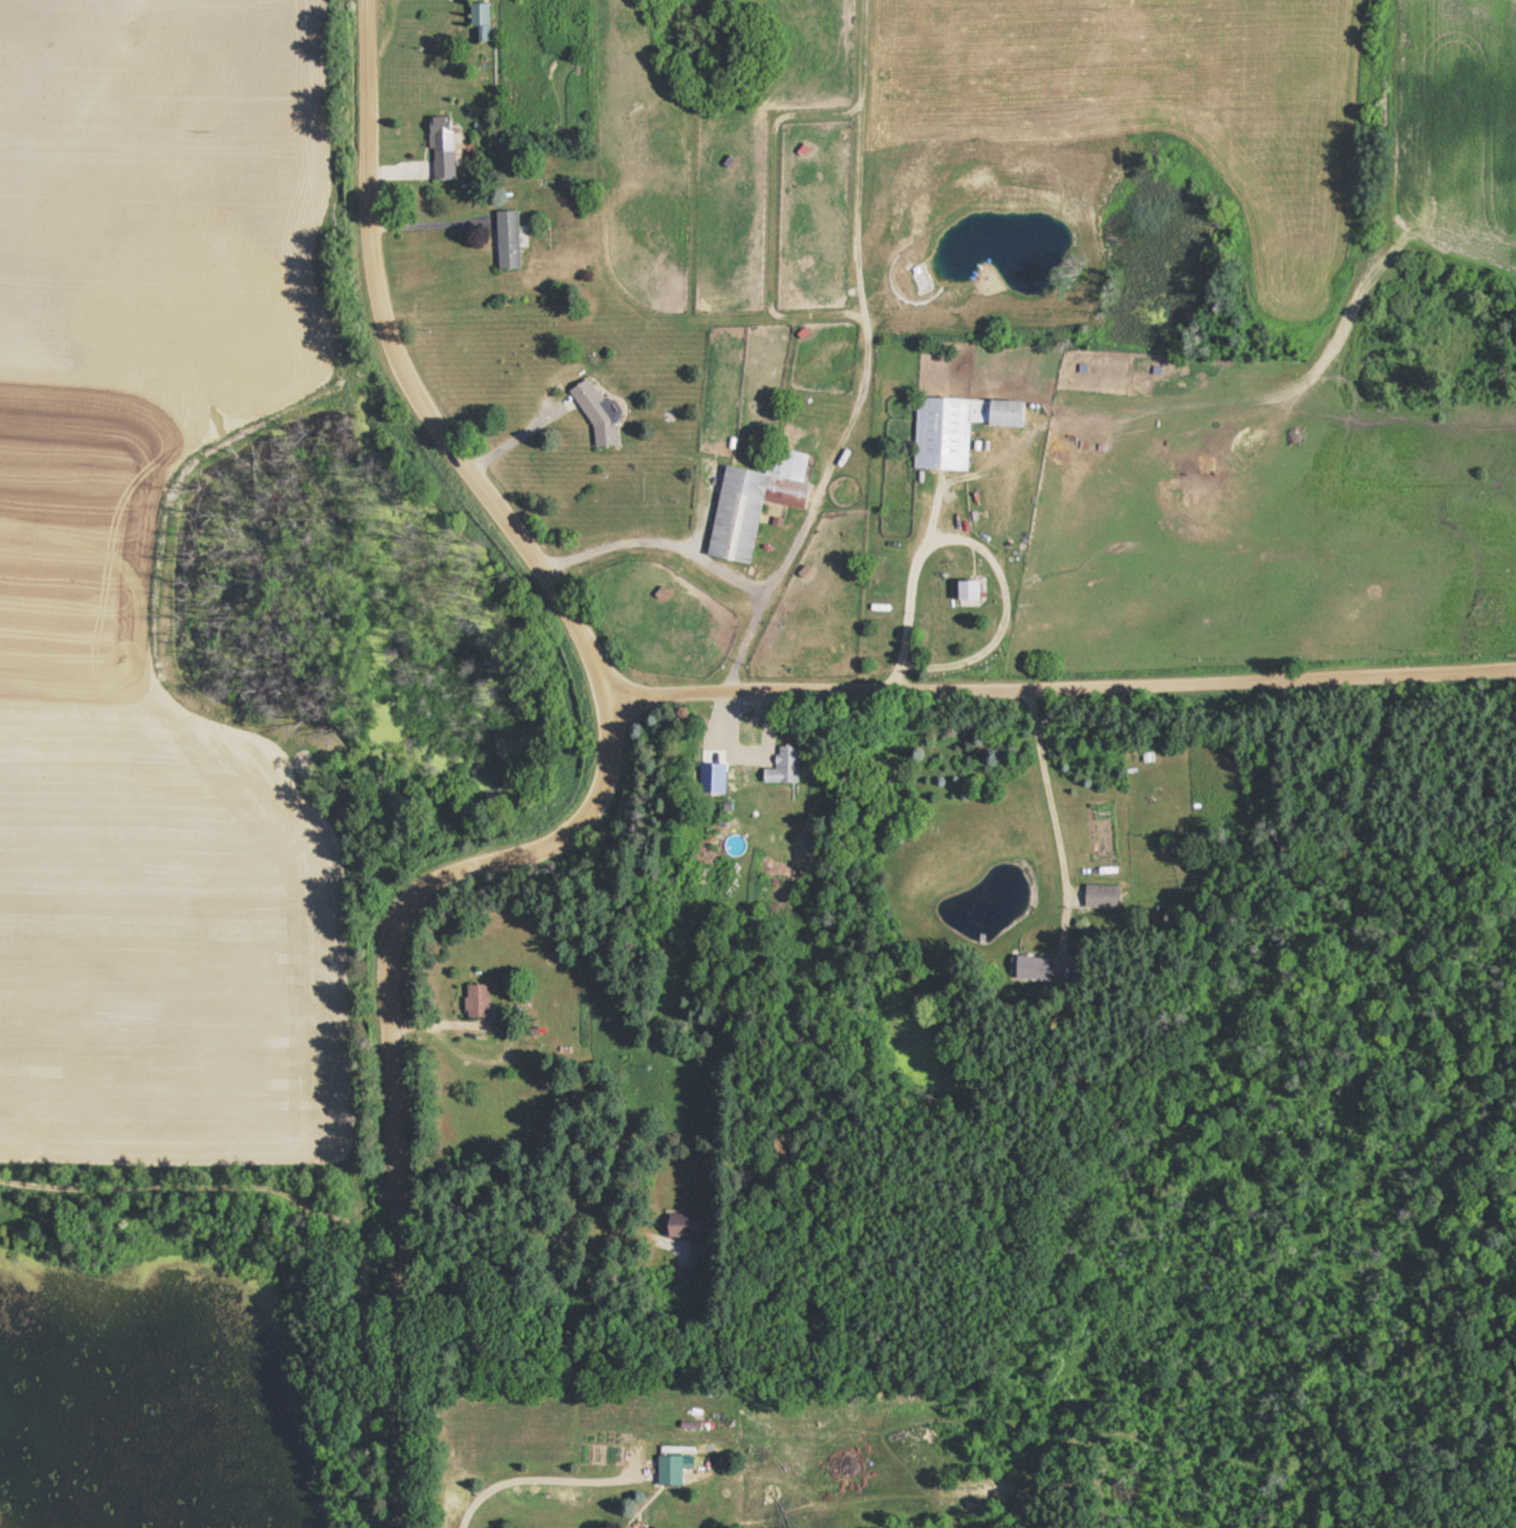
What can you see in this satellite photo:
building: (478, 19)
building: (1068, 38)
building: (630, 112)
building: (439, 147)
building: (504, 240)
building: (593, 410)
building: (952, 427)
building: (751, 500)
building: (965, 589)
road: (1060, 676)
building: (780, 765)
road: (591, 794)
building: (1099, 896)
building: (1031, 967)
building: (473, 1000)
building: (686, 1235)
building: (681, 1279)
building: (666, 1468)

